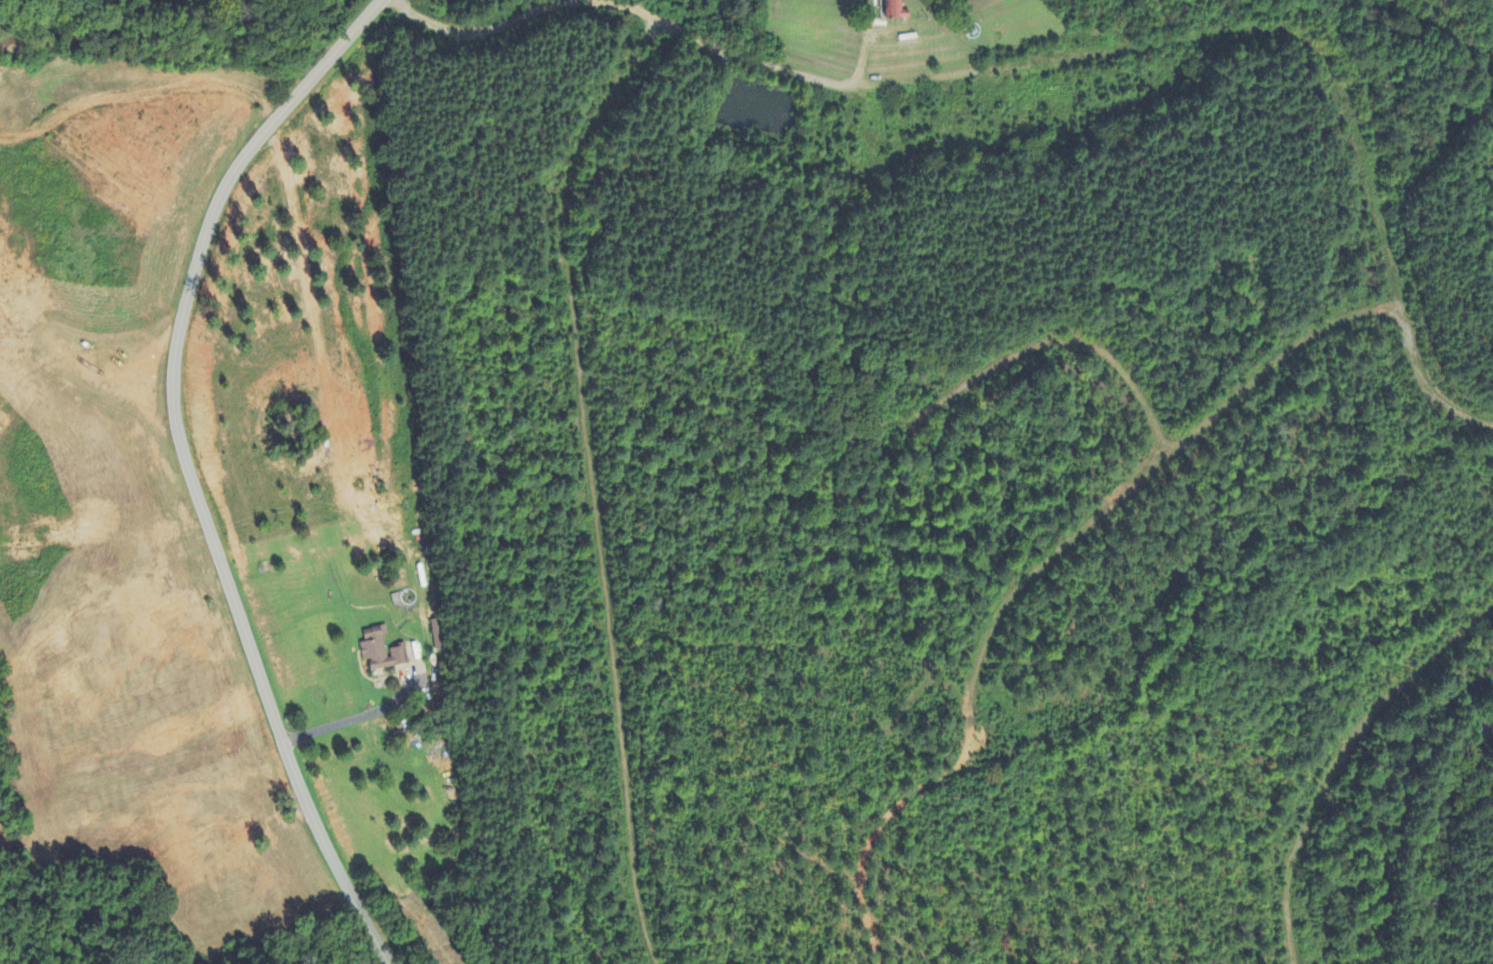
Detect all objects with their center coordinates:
building: (897, 10)
road: (489, 21)
road: (759, 62)
road: (190, 468)
building: (439, 637)
building: (381, 651)
road: (356, 719)

